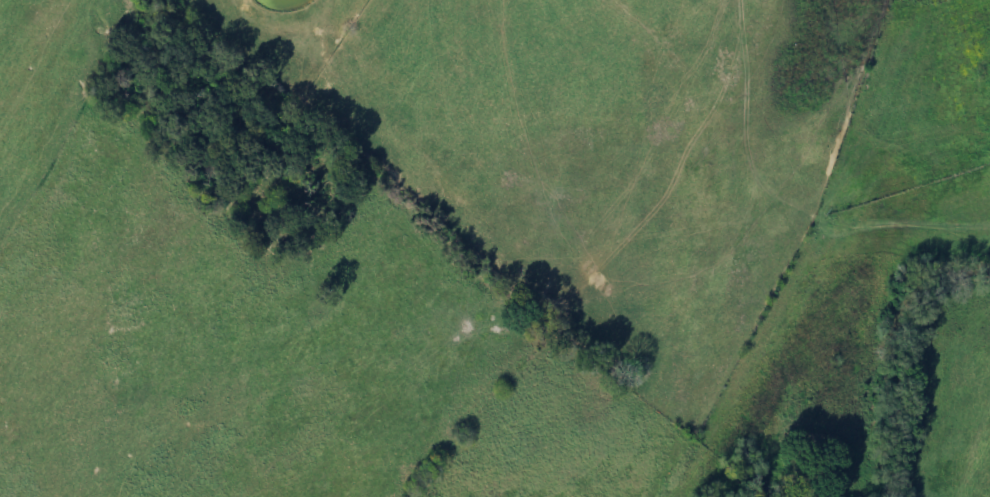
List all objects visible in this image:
road: (599, 220)

